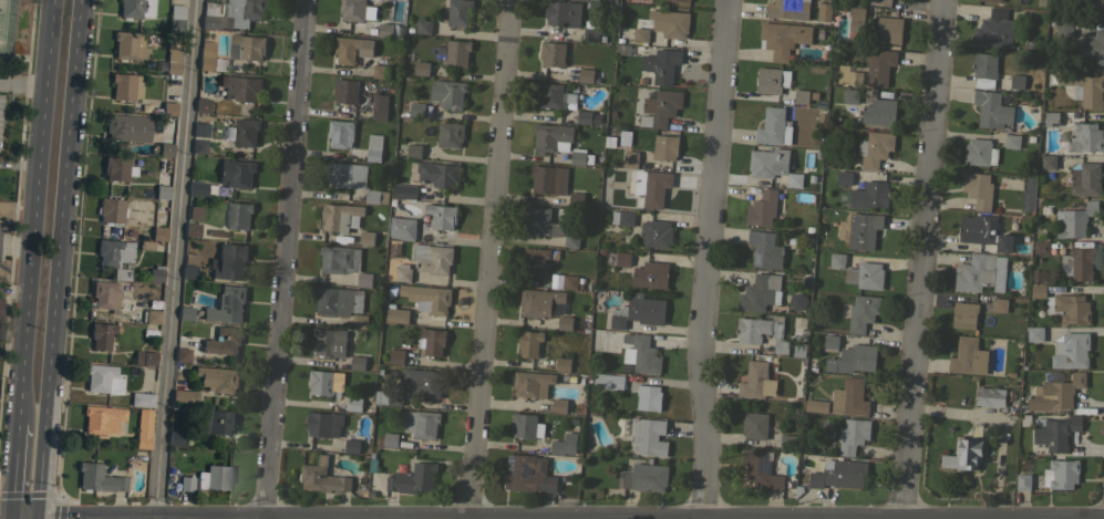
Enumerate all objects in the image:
building: (590, 0)
building: (681, 0)
building: (992, 0)
building: (879, 2)
building: (135, 8)
building: (352, 9)
building: (787, 9)
building: (1095, 9)
building: (458, 12)
building: (563, 12)
building: (824, 12)
building: (233, 13)
park: (2, 17)
building: (176, 19)
building: (857, 19)
building: (669, 23)
building: (423, 27)
building: (1063, 28)
building: (994, 29)
building: (385, 30)
building: (889, 30)
building: (590, 31)
park: (14, 34)
building: (640, 34)
building: (783, 38)
road: (29, 42)
building: (249, 45)
building: (1092, 45)
building: (128, 46)
building: (351, 49)
building: (456, 53)
building: (551, 54)
building: (209, 58)
building: (171, 60)
building: (661, 64)
building: (879, 66)
building: (421, 68)
building: (984, 70)
building: (380, 71)
building: (586, 75)
building: (850, 77)
building: (771, 80)
building: (1017, 81)
road: (22, 82)
building: (1082, 85)
building: (125, 86)
building: (243, 87)
building: (344, 91)
building: (447, 93)
building: (554, 95)
building: (850, 95)
building: (801, 96)
building: (202, 105)
building: (379, 106)
building: (660, 107)
building: (168, 108)
building: (416, 108)
building: (993, 111)
building: (879, 112)
building: (587, 117)
building: (1051, 118)
building: (127, 127)
building: (773, 127)
building: (200, 129)
building: (243, 132)
building: (340, 133)
building: (450, 134)
building: (551, 137)
building: (625, 137)
building: (1085, 138)
building: (1012, 141)
building: (198, 146)
building: (373, 147)
building: (664, 147)
building: (165, 149)
building: (875, 149)
building: (413, 150)
building: (980, 152)
building: (580, 158)
building: (630, 159)
building: (1048, 162)
building: (773, 165)
building: (117, 168)
building: (236, 173)
building: (435, 174)
building: (347, 175)
building: (844, 177)
building: (548, 178)
building: (1085, 178)
building: (652, 187)
building: (200, 188)
building: (978, 189)
building: (404, 190)
building: (162, 191)
building: (867, 195)
building: (374, 197)
building: (575, 199)
building: (762, 208)
road: (33, 210)
building: (111, 210)
building: (238, 215)
building: (340, 216)
building: (442, 216)
building: (622, 217)
building: (1074, 219)
building: (541, 221)
building: (402, 228)
building: (192, 229)
building: (864, 230)
building: (158, 232)
building: (984, 232)
building: (656, 233)
building: (367, 237)
building: (571, 240)
road: (16, 245)
building: (1042, 247)
building: (765, 249)
building: (114, 256)
road: (56, 258)
building: (336, 258)
building: (432, 258)
road: (177, 259)
road: (286, 259)
road: (494, 259)
road: (706, 259)
building: (837, 259)
road: (921, 260)
building: (228, 261)
building: (536, 261)
building: (1079, 261)
building: (189, 266)
building: (640, 270)
building: (980, 272)
building: (155, 273)
building: (403, 273)
building: (865, 274)
building: (364, 279)
building: (569, 281)
building: (760, 292)
building: (104, 295)
building: (427, 298)
building: (338, 300)
building: (0, 301)
building: (539, 301)
building: (226, 304)
building: (999, 304)
building: (1063, 304)
building: (638, 311)
building: (863, 312)
building: (184, 313)
building: (395, 313)
building: (963, 314)
building: (151, 316)
building: (359, 321)
building: (565, 323)
building: (761, 332)
building: (1034, 333)
building: (101, 334)
building: (223, 341)
building: (329, 342)
building: (431, 342)
building: (529, 343)
building: (830, 343)
building: (1071, 350)
building: (182, 354)
building: (642, 354)
building: (396, 356)
building: (968, 356)
building: (144, 357)
building: (853, 359)
building: (358, 362)
building: (563, 364)
building: (103, 378)
building: (217, 378)
building: (606, 381)
building: (756, 381)
building: (326, 382)
building: (422, 382)
building: (532, 383)
building: (1055, 393)
building: (184, 396)
building: (990, 396)
building: (388, 397)
building: (648, 397)
building: (849, 397)
building: (142, 399)
building: (354, 404)
building: (560, 405)
building: (816, 405)
building: (102, 418)
building: (215, 422)
building: (421, 423)
building: (324, 424)
building: (755, 425)
building: (526, 426)
building: (143, 428)
building: (1054, 432)
building: (853, 435)
building: (649, 436)
building: (175, 437)
building: (389, 439)
building: (787, 442)
building: (565, 444)
building: (351, 446)
building: (963, 455)
road: (12, 469)
building: (761, 469)
building: (528, 474)
building: (1061, 474)
building: (840, 475)
building: (322, 477)
building: (647, 477)
building: (97, 478)
building: (413, 478)
building: (207, 479)
building: (1023, 481)
traffic signals: (9, 517)
road: (22, 517)
traffic signals: (35, 517)
road: (114, 517)
road: (8, 518)
road: (34, 518)

